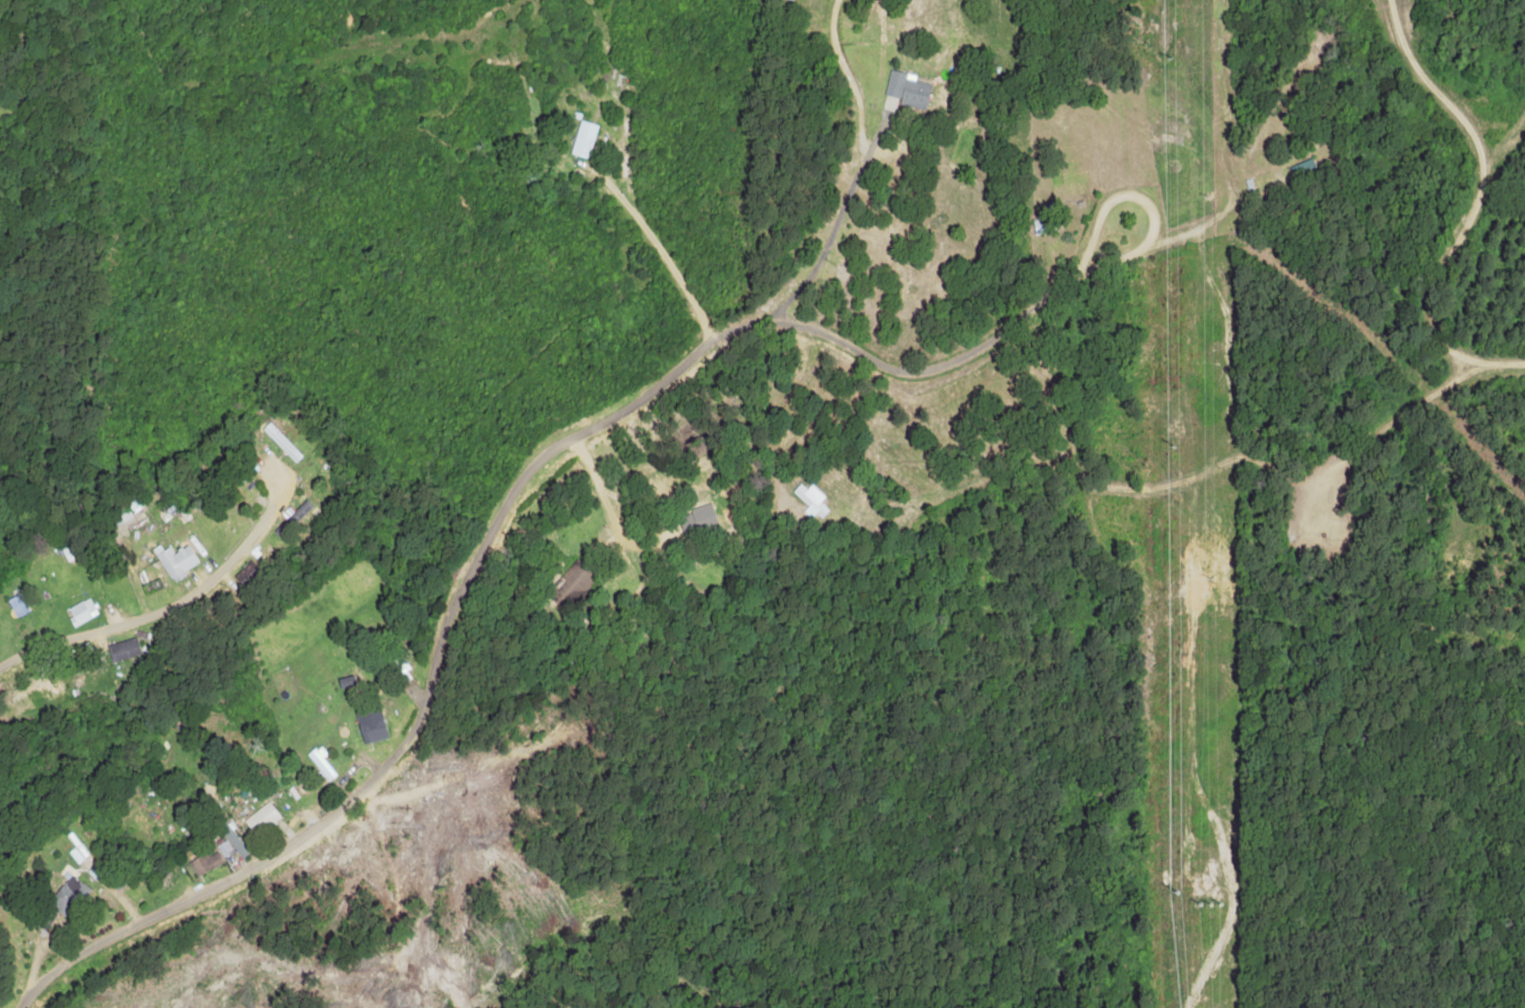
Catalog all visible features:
building: (907, 88)
building: (583, 138)
road: (1420, 229)
building: (282, 442)
road: (558, 497)
building: (812, 500)
building: (697, 521)
building: (177, 558)
road: (165, 602)
building: (80, 611)
building: (123, 649)
building: (398, 664)
building: (345, 681)
road: (865, 682)
road: (676, 721)
building: (371, 729)
building: (321, 762)
building: (261, 818)
building: (232, 837)
building: (224, 847)
building: (206, 861)
building: (66, 895)

